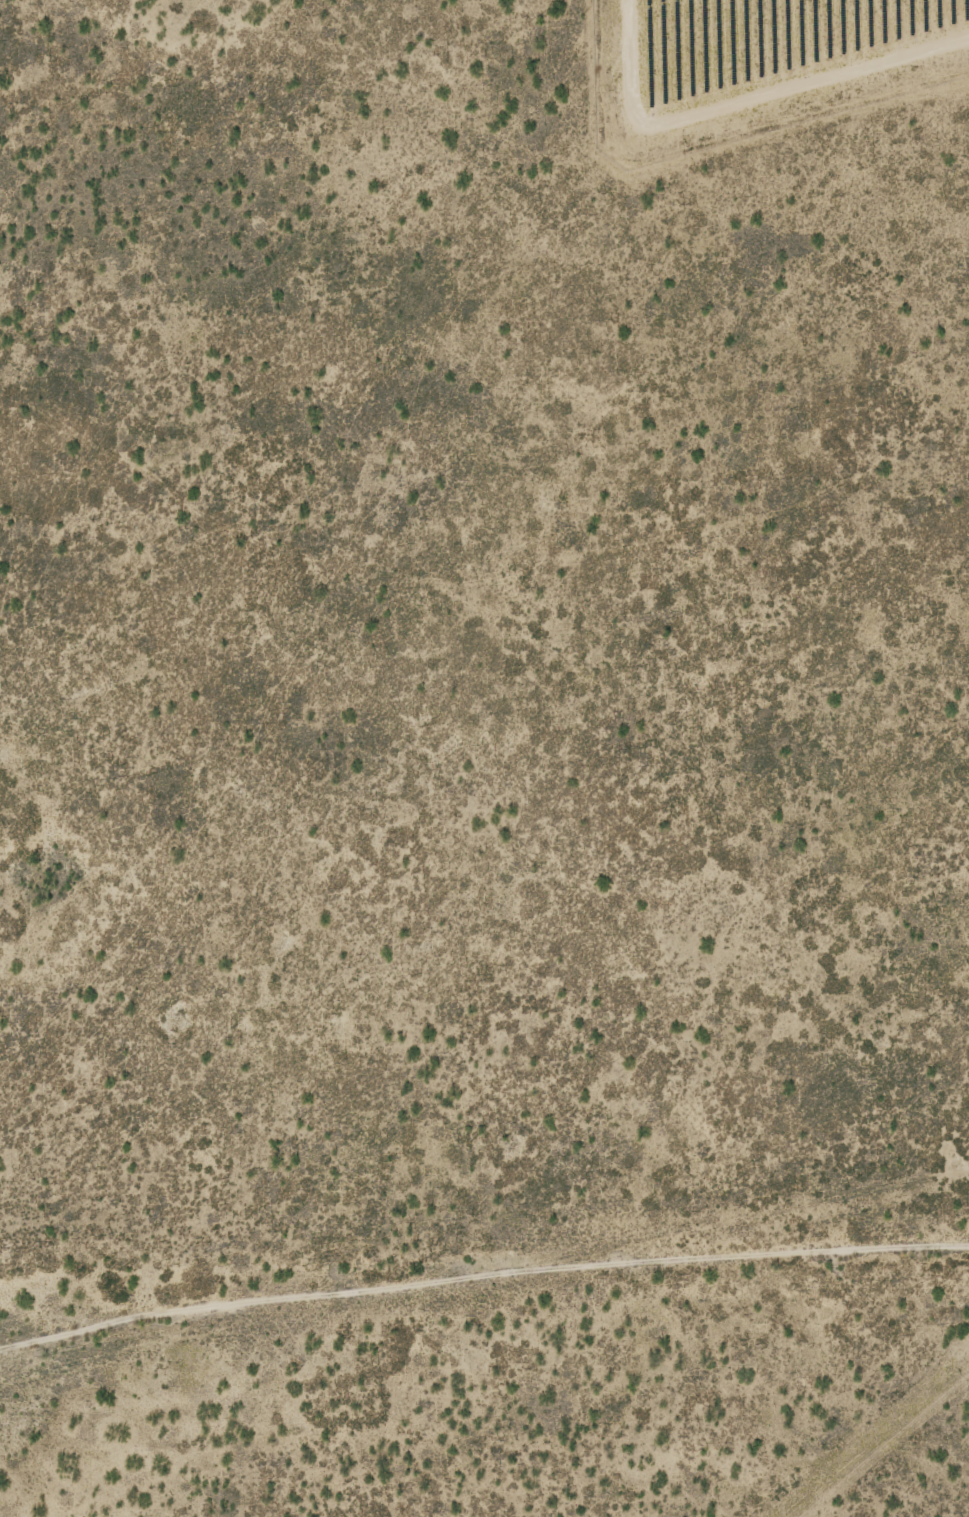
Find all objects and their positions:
solar farm: (758, 64)

